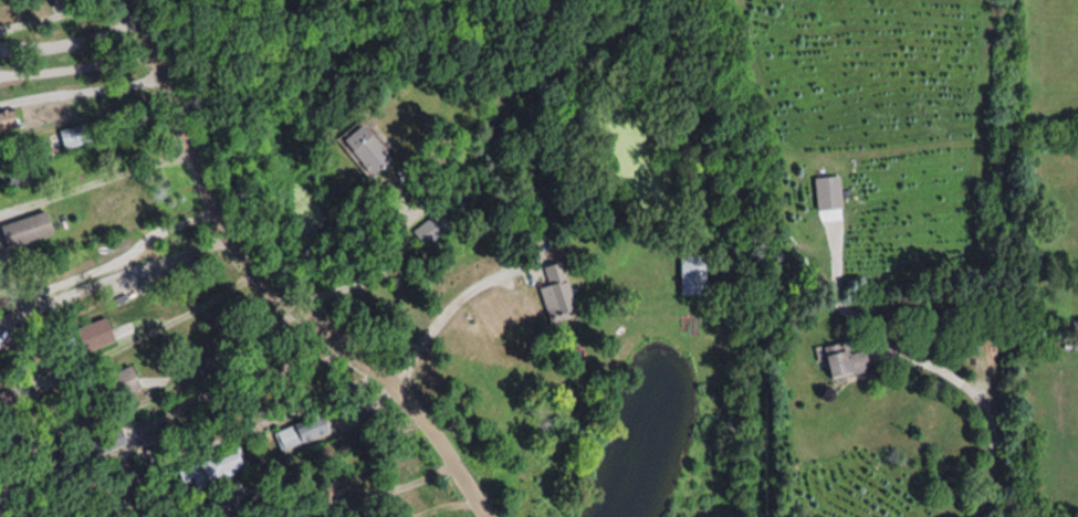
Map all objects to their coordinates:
road: (53, 13)
road: (72, 40)
road: (77, 66)
building: (8, 119)
building: (76, 135)
building: (367, 147)
building: (22, 175)
road: (95, 175)
building: (829, 191)
building: (431, 228)
building: (28, 229)
road: (116, 249)
road: (386, 264)
road: (271, 286)
building: (557, 292)
road: (440, 309)
road: (147, 328)
building: (96, 333)
building: (846, 359)
road: (189, 374)
road: (241, 376)
building: (109, 387)
building: (7, 399)
road: (987, 409)
road: (283, 413)
building: (303, 432)
building: (19, 437)
building: (213, 467)
building: (36, 478)
road: (397, 483)
building: (328, 494)
building: (227, 500)

